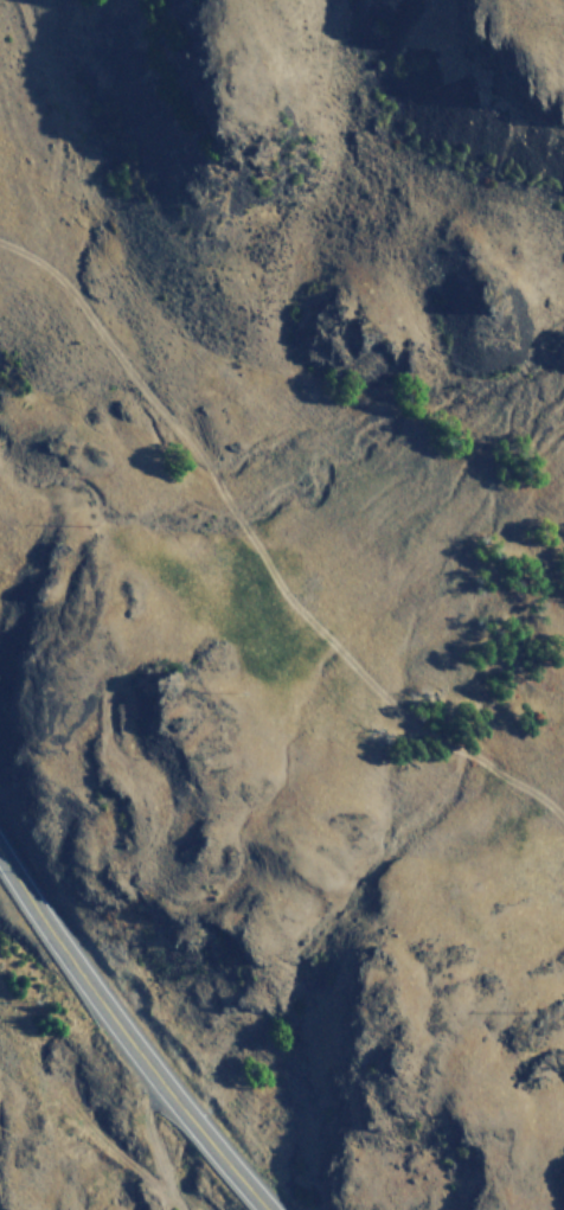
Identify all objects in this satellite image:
road: (126, 1037)
road: (152, 1139)

